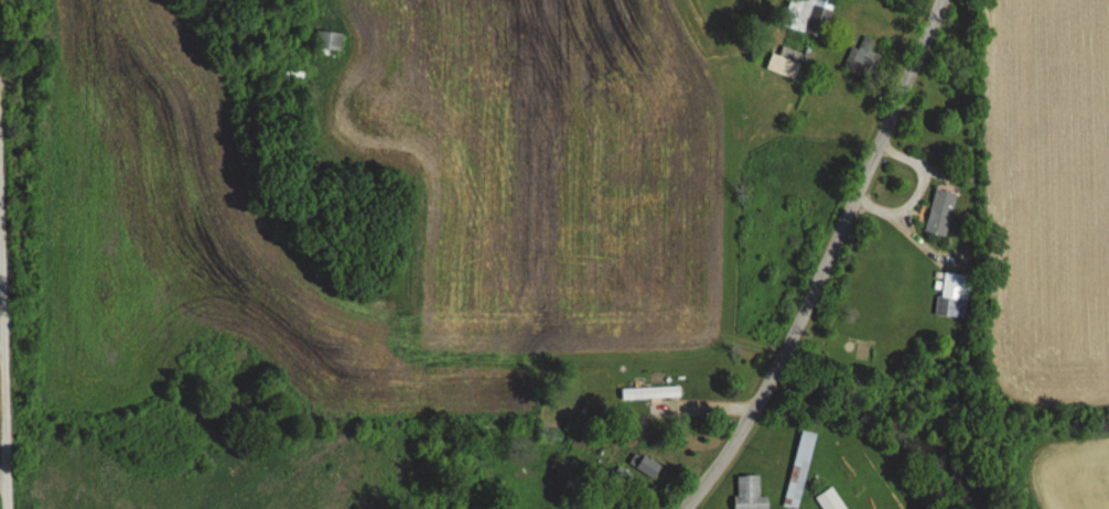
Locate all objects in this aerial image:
building: (805, 13)
building: (329, 41)
building: (864, 54)
building: (780, 63)
road: (919, 176)
building: (940, 213)
road: (901, 228)
road: (826, 261)
road: (6, 295)
building: (951, 295)
road: (3, 340)
building: (650, 392)
building: (648, 467)
road: (3, 468)
building: (799, 469)
building: (749, 494)

